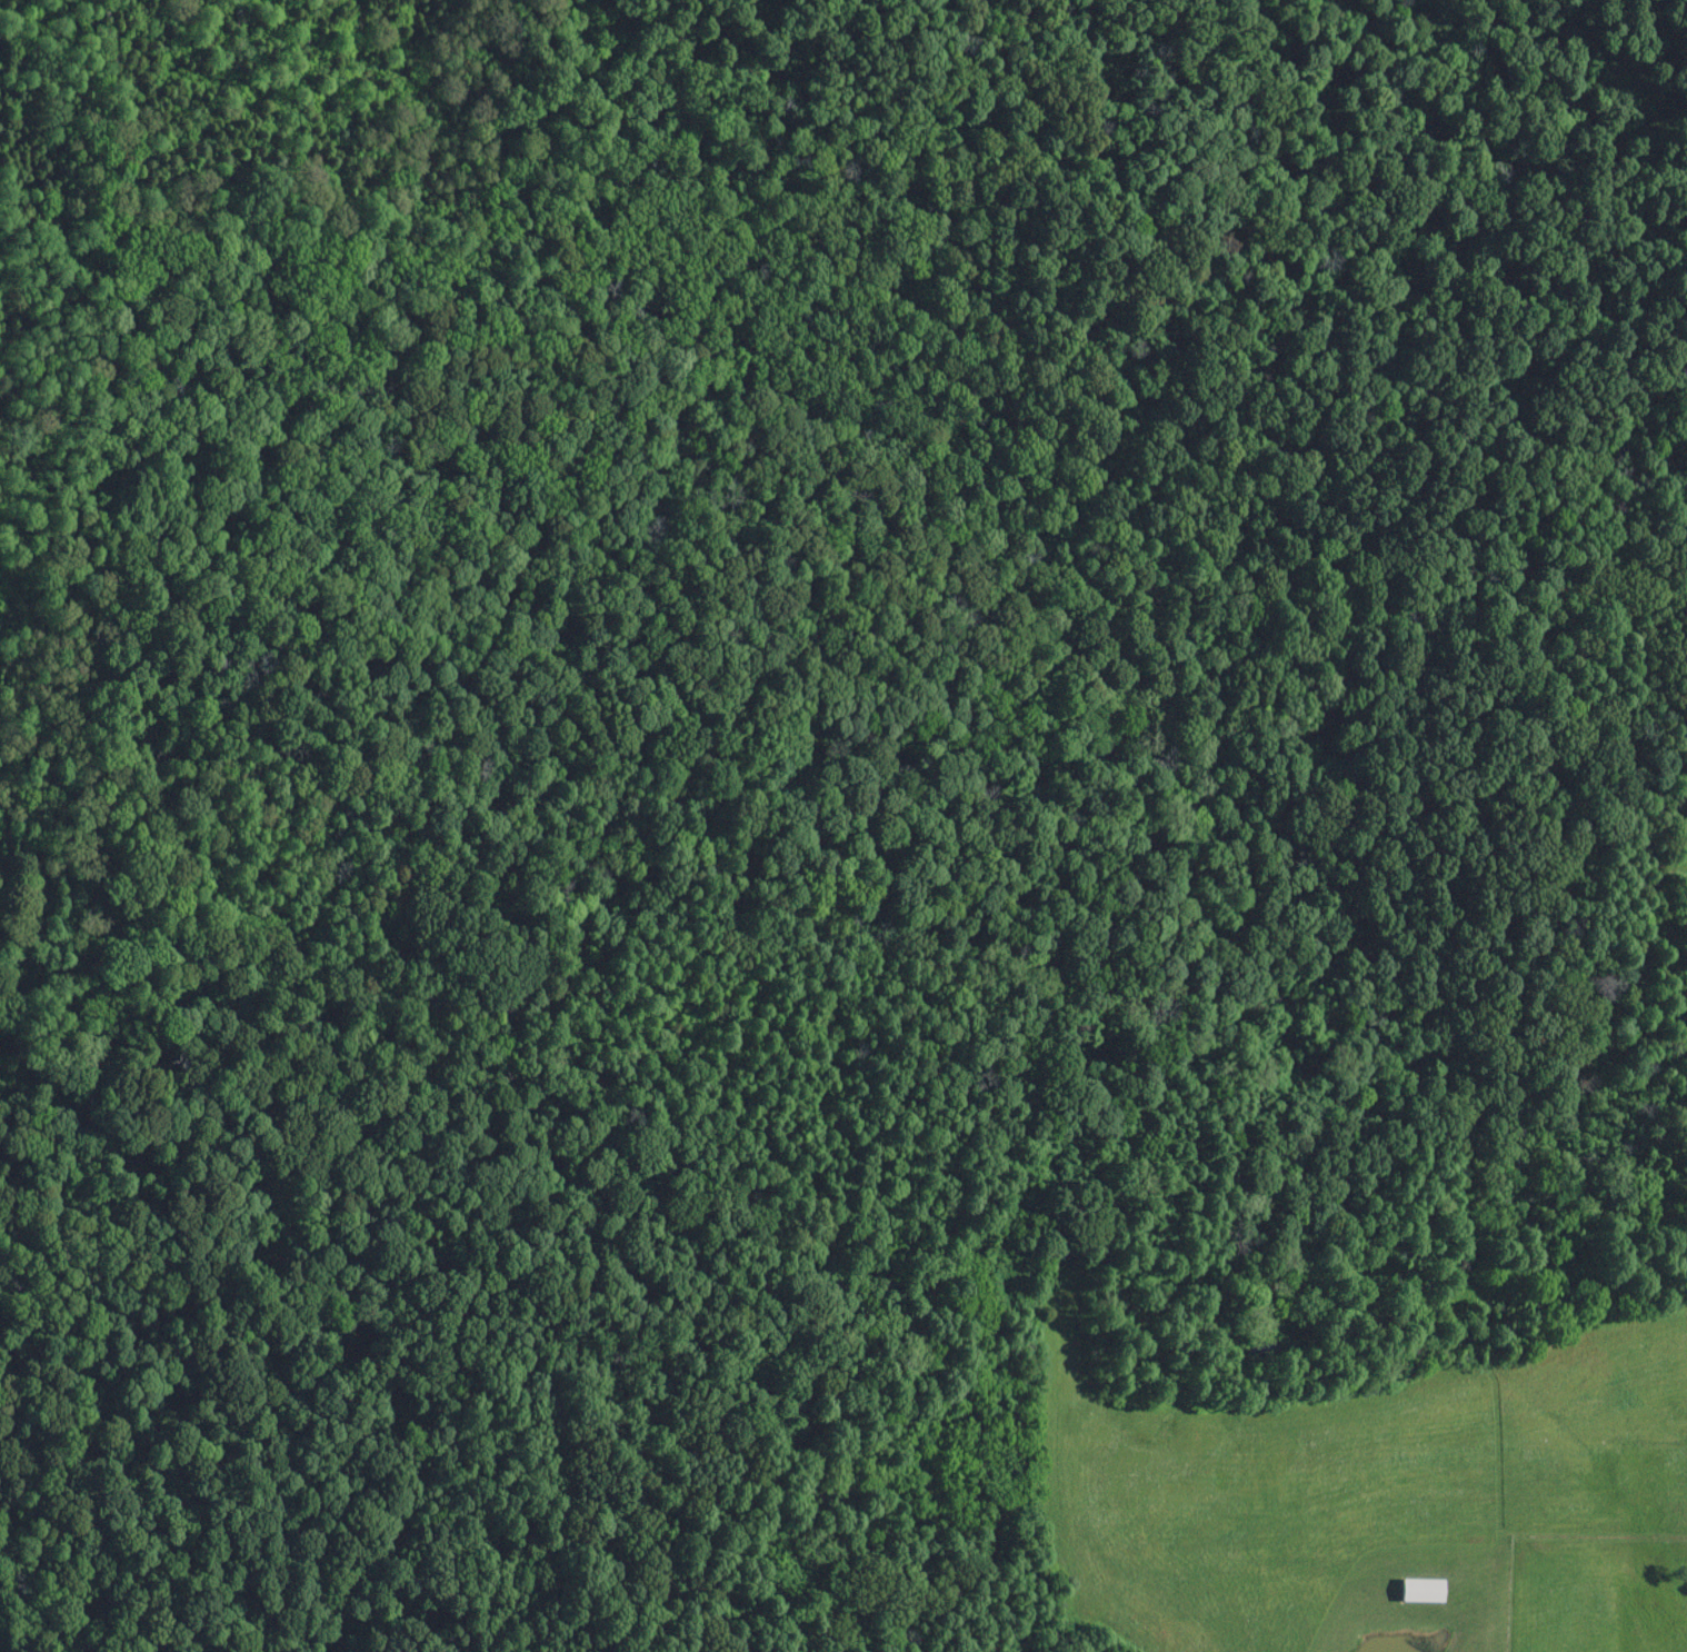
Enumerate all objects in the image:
building: (1420, 1590)

